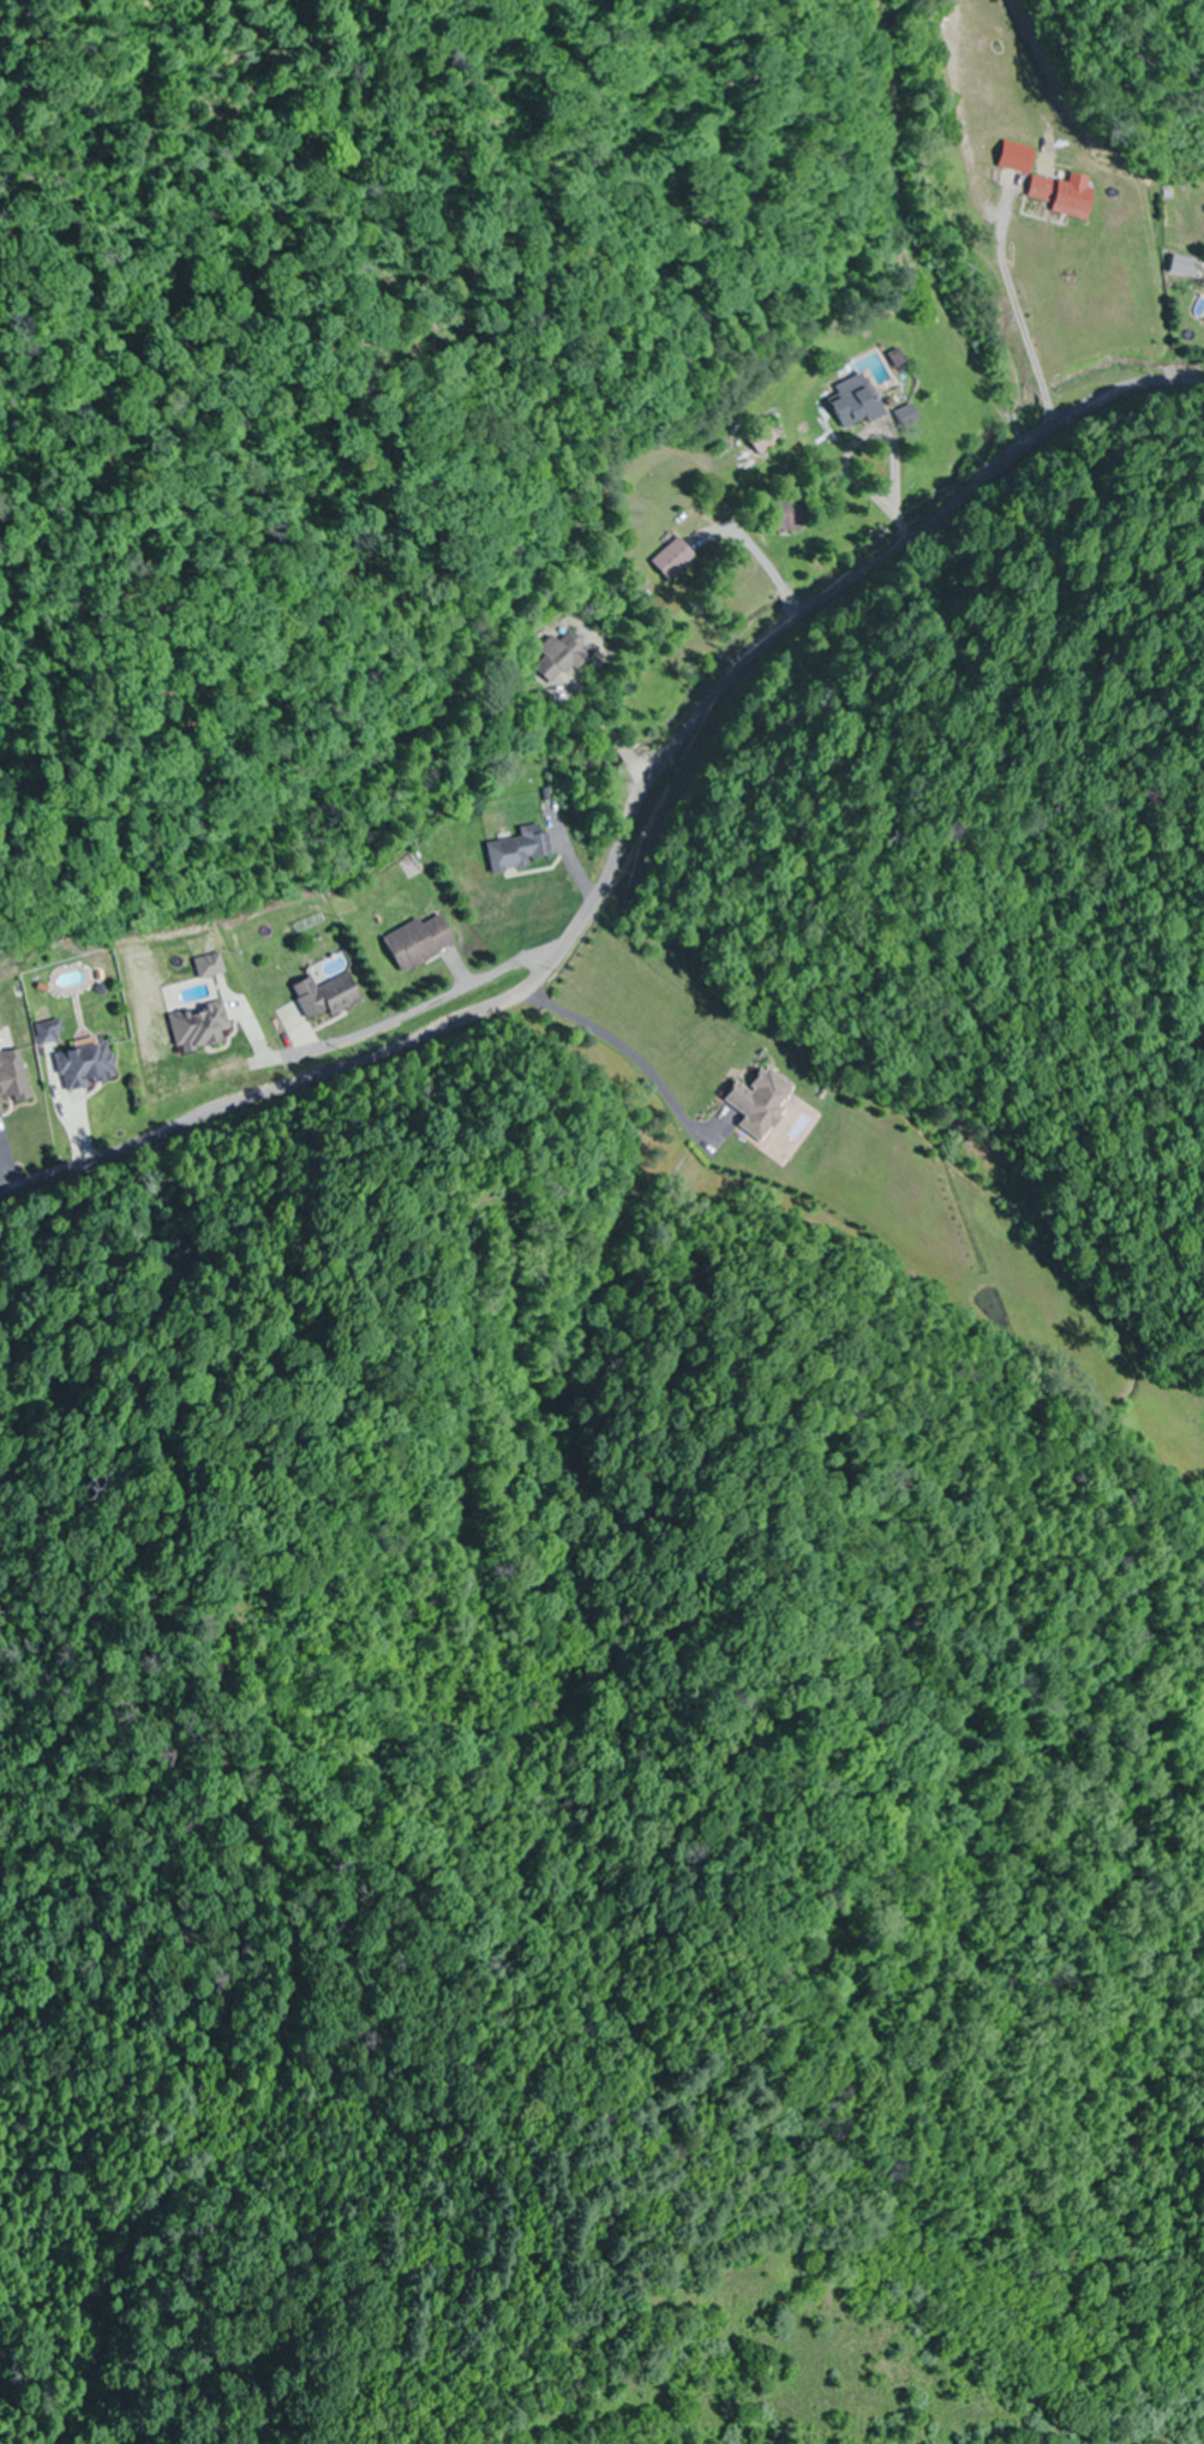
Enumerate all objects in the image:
building: (1023, 159)
building: (1070, 195)
building: (862, 405)
building: (769, 440)
building: (791, 516)
building: (677, 560)
building: (565, 659)
road: (627, 827)
building: (522, 850)
building: (423, 944)
building: (329, 998)
building: (202, 1028)
building: (1, 1029)
building: (88, 1068)
building: (13, 1081)
building: (766, 1104)

